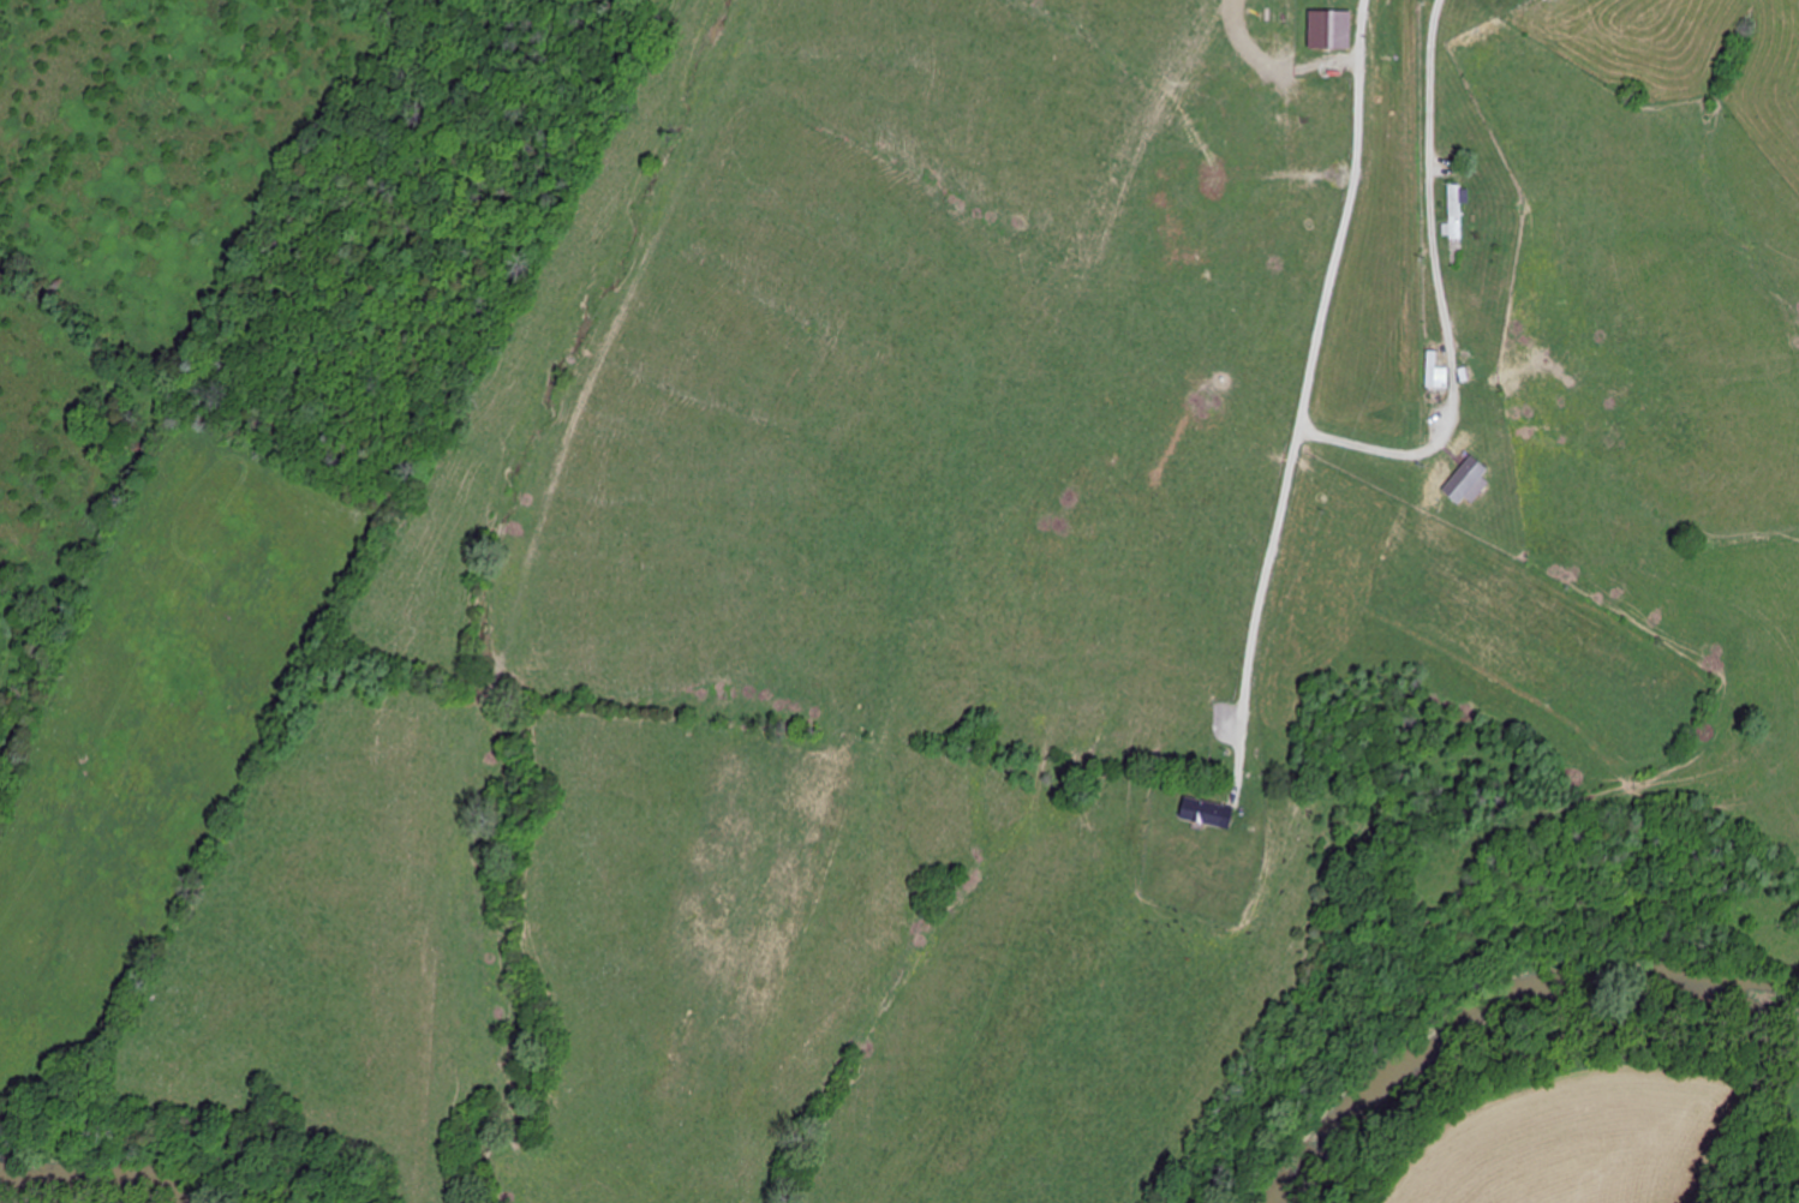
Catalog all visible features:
building: (1459, 210)
building: (1436, 373)
river: (1489, 978)
river: (116, 1162)

